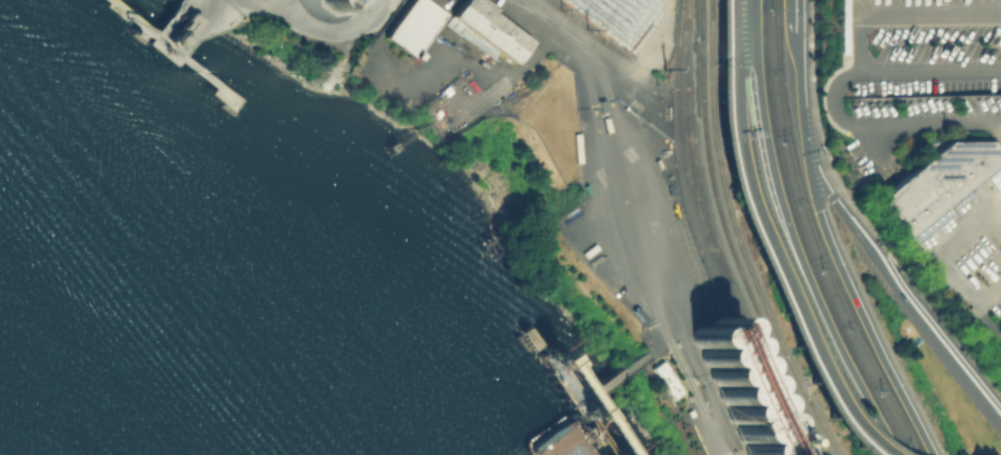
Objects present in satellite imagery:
road: (272, 4)
railway: (535, 12)
road: (903, 13)
building: (624, 16)
road: (794, 16)
railway: (703, 18)
building: (413, 25)
road: (321, 27)
building: (485, 29)
pier: (184, 37)
road: (597, 44)
railway: (589, 51)
road: (735, 69)
road: (504, 71)
road: (932, 71)
railway: (707, 93)
road: (798, 108)
road: (888, 125)
road: (873, 146)
railway: (726, 174)
road: (734, 174)
building: (935, 179)
traffic signals: (811, 182)
railway: (700, 237)
railway: (714, 237)
road: (789, 237)
railway: (802, 237)
railway: (815, 237)
road: (616, 246)
parking lot: (968, 266)
road: (943, 267)
railway: (722, 270)
road: (907, 301)
road: (793, 306)
road: (865, 321)
railway: (763, 324)
building: (664, 378)
building: (736, 388)
pier: (580, 389)
railway: (814, 397)
road: (828, 401)
railway: (799, 446)
river: (6, 448)

